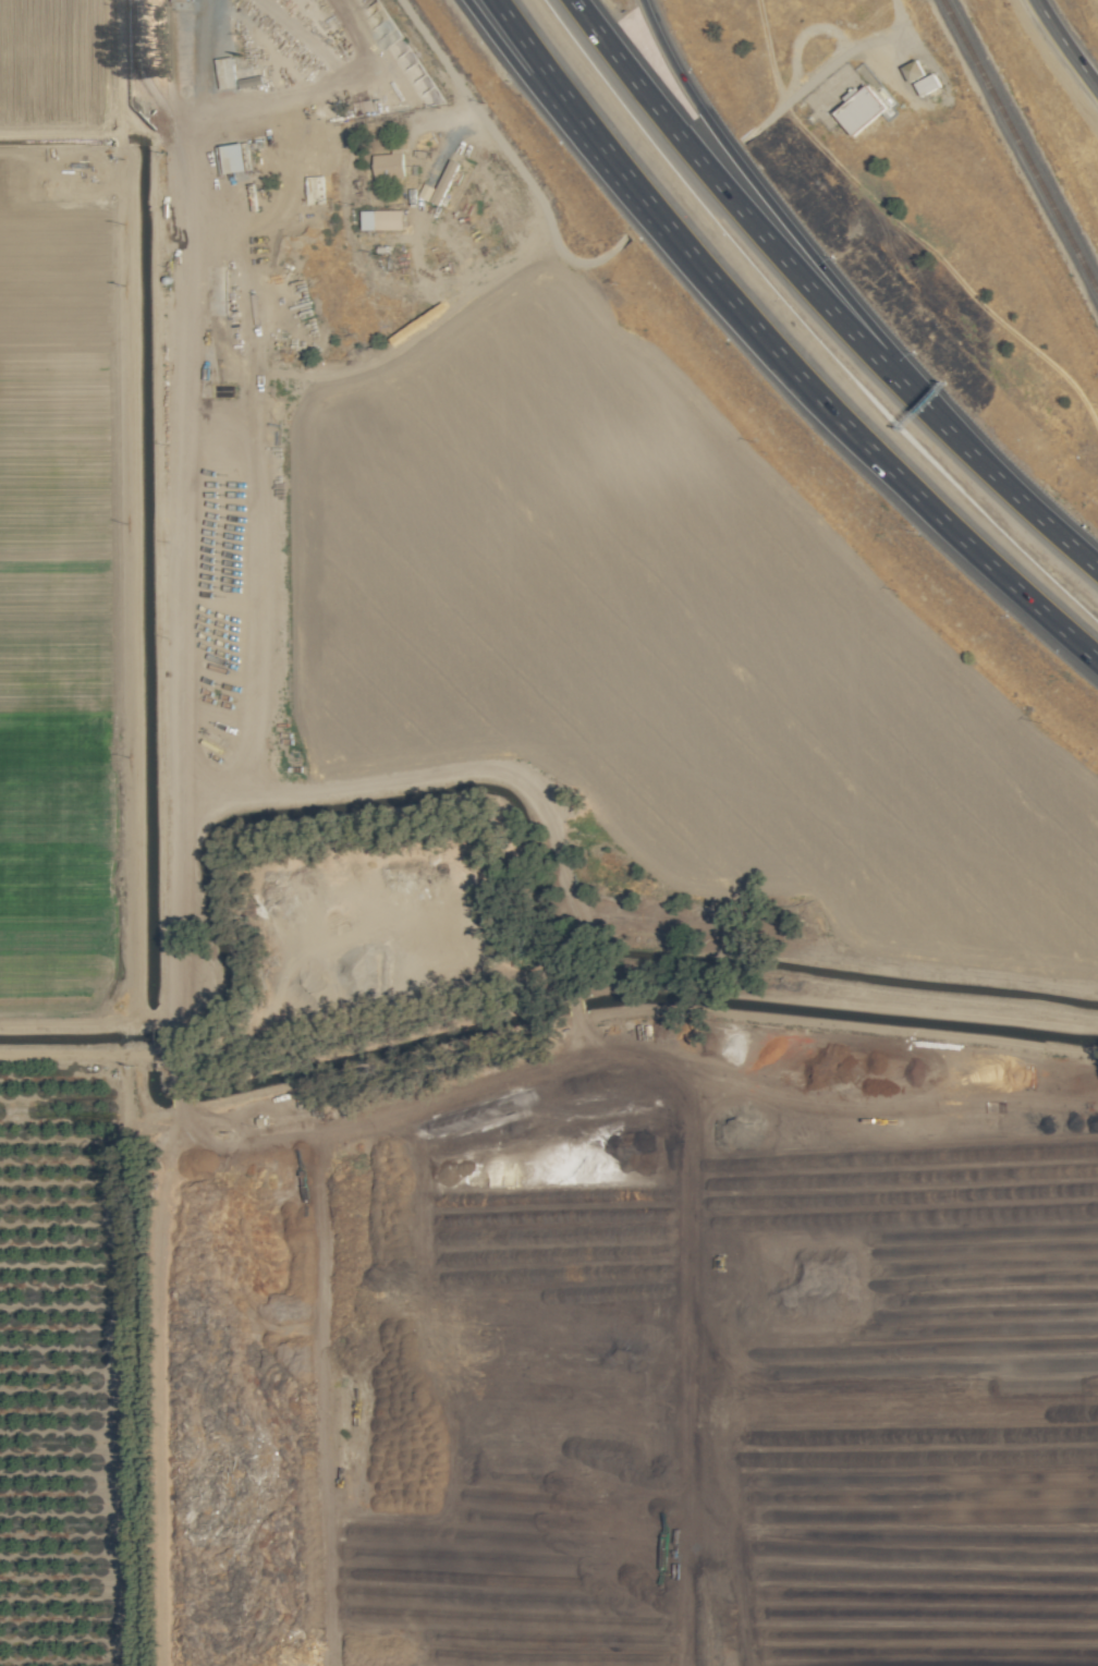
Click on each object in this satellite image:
road: (1065, 45)
road: (830, 65)
building: (914, 70)
building: (225, 72)
building: (928, 84)
building: (858, 109)
railway: (1020, 146)
road: (508, 156)
building: (234, 158)
building: (389, 163)
road: (708, 165)
road: (737, 167)
building: (438, 184)
building: (382, 220)
road: (764, 354)
road: (971, 447)

